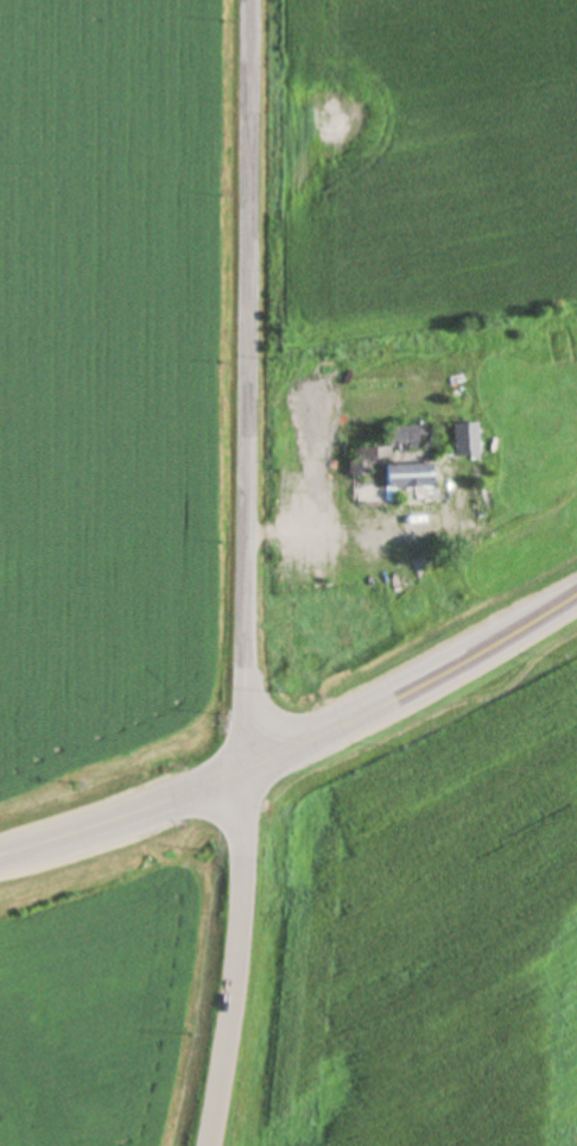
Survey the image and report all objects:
road: (254, 388)
building: (395, 467)
road: (408, 697)
road: (116, 814)
road: (237, 959)

